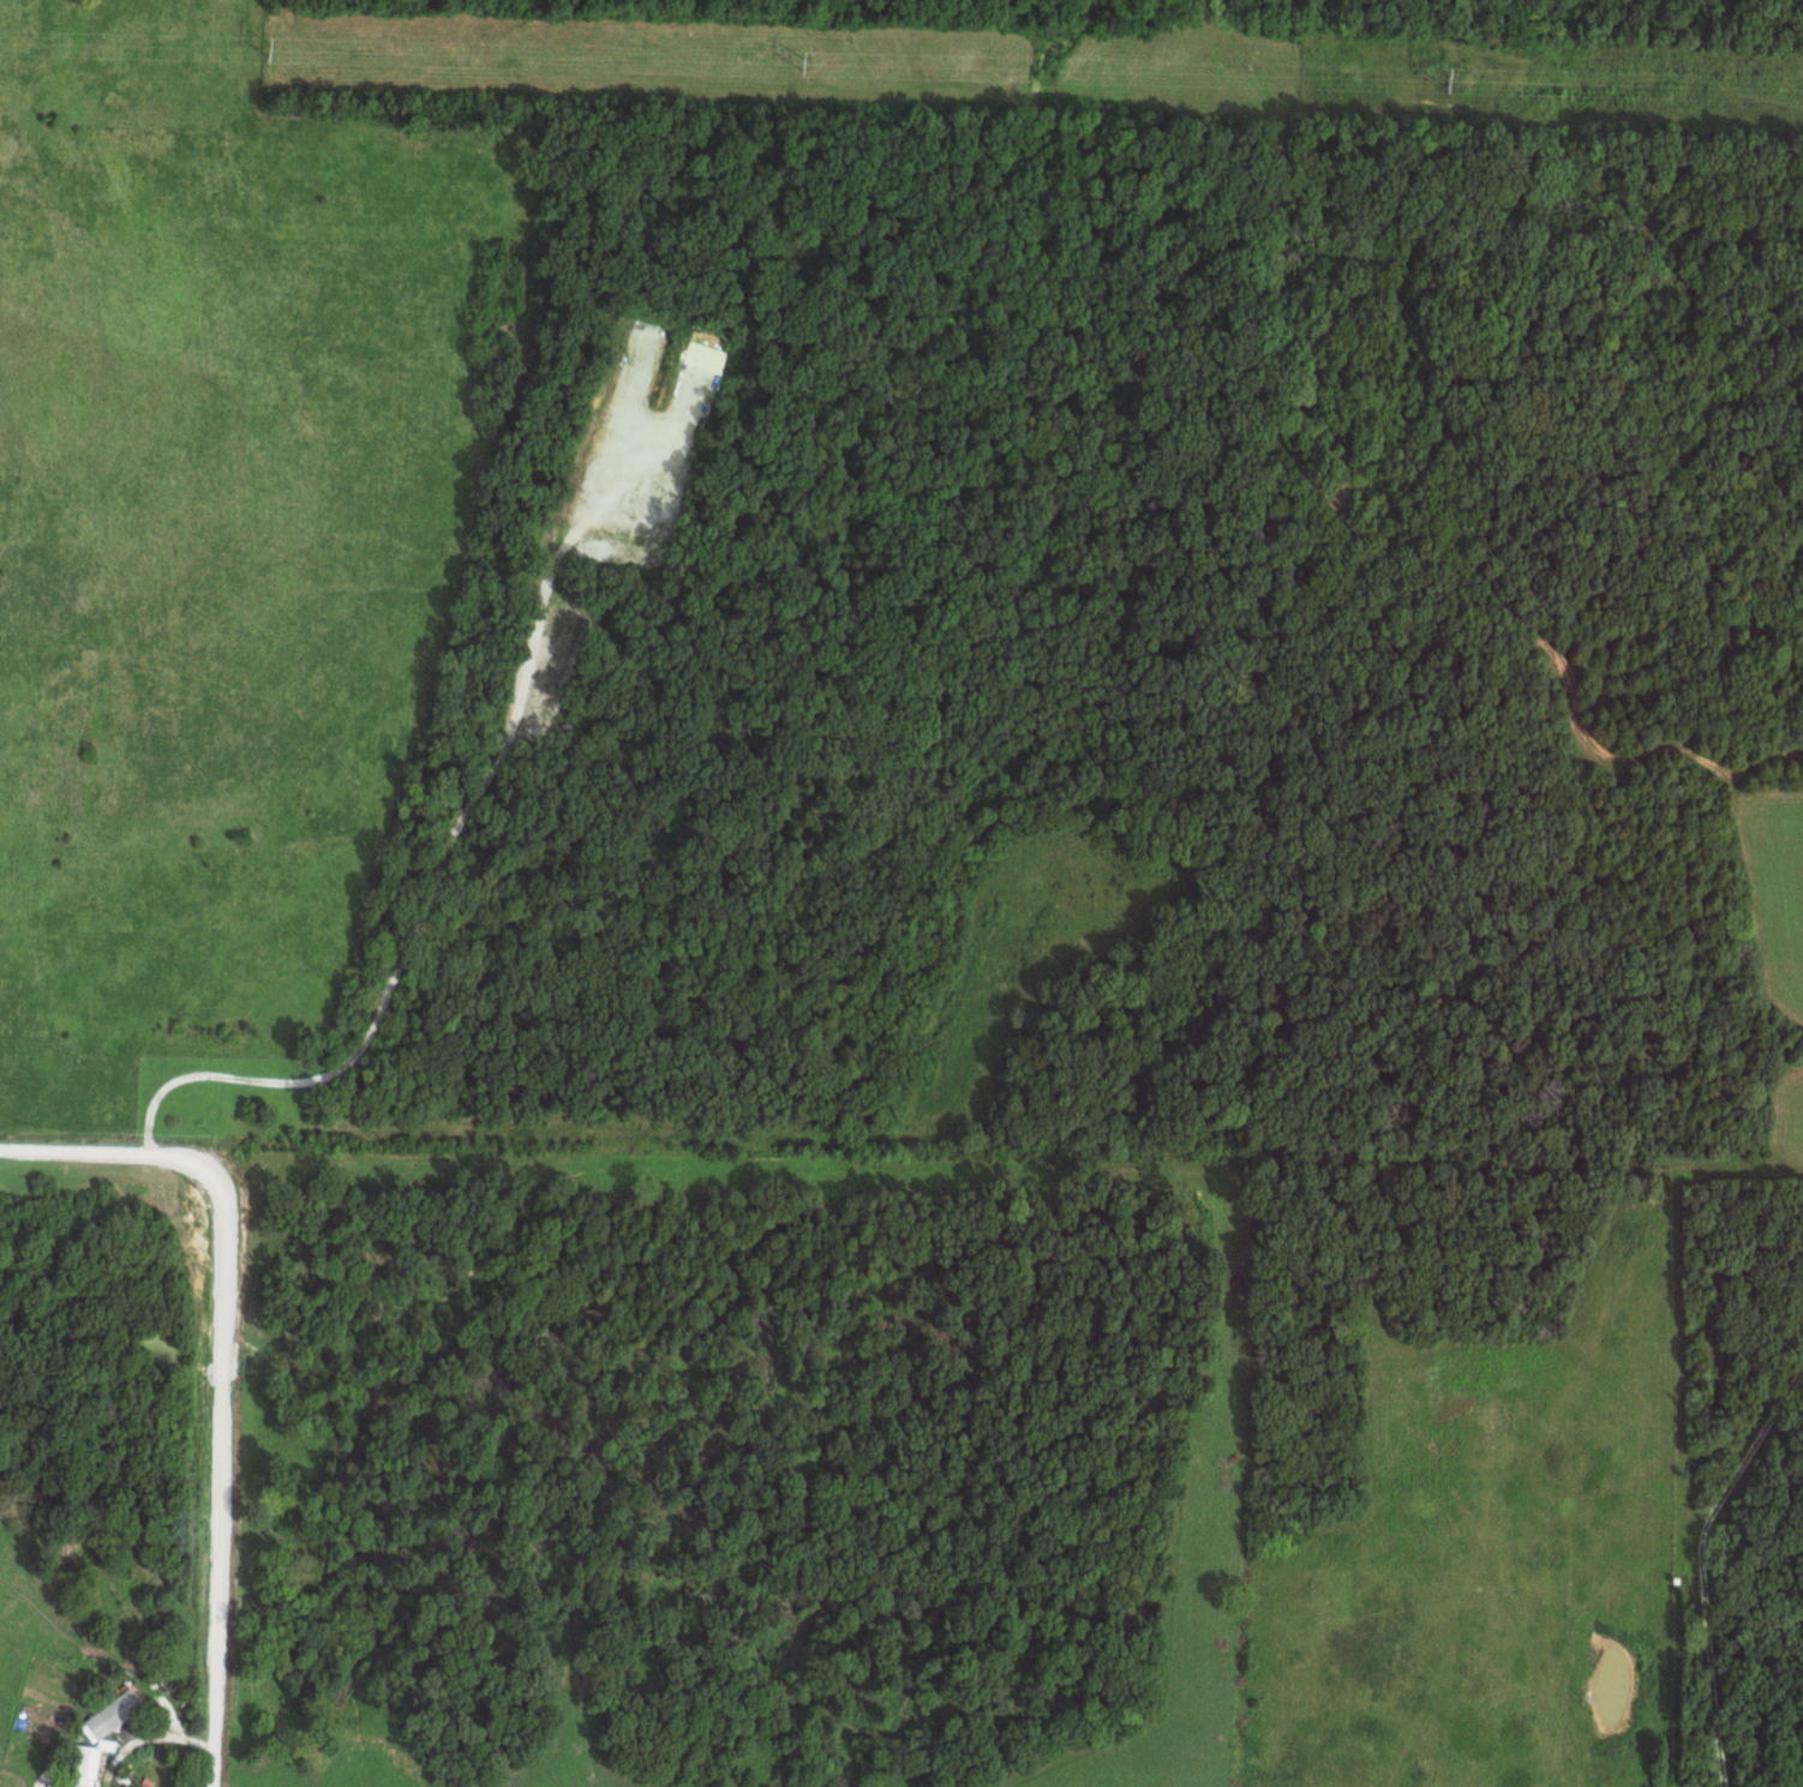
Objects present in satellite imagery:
power tower: (271, 52)
power tower: (802, 66)
power tower: (1448, 80)
road: (232, 1253)
road: (1685, 1542)
road: (221, 1681)
building: (118, 1713)
road: (132, 1743)
building: (88, 1763)

